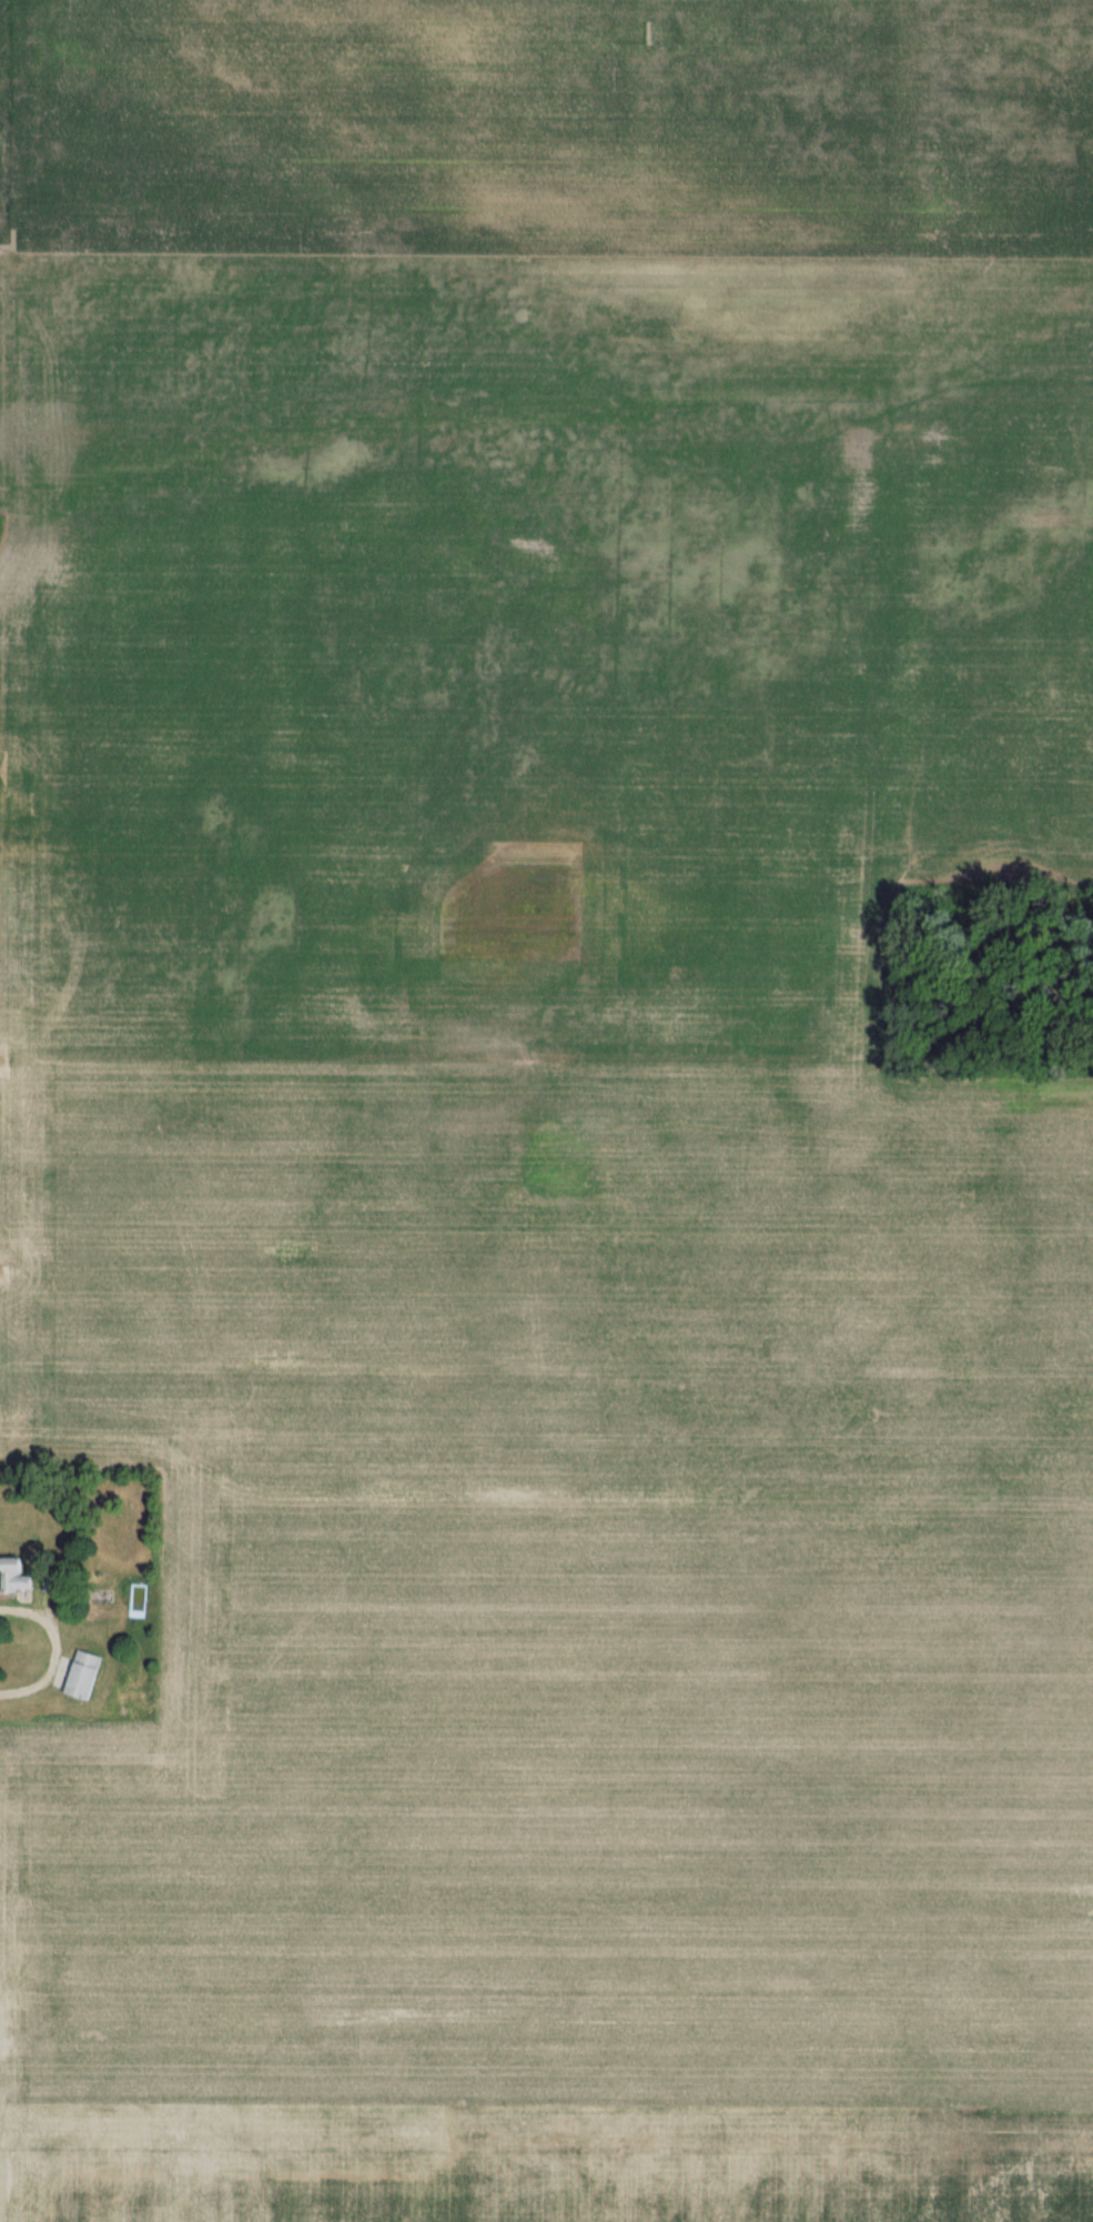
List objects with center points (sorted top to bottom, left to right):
building: (17, 1576)
building: (85, 1675)

